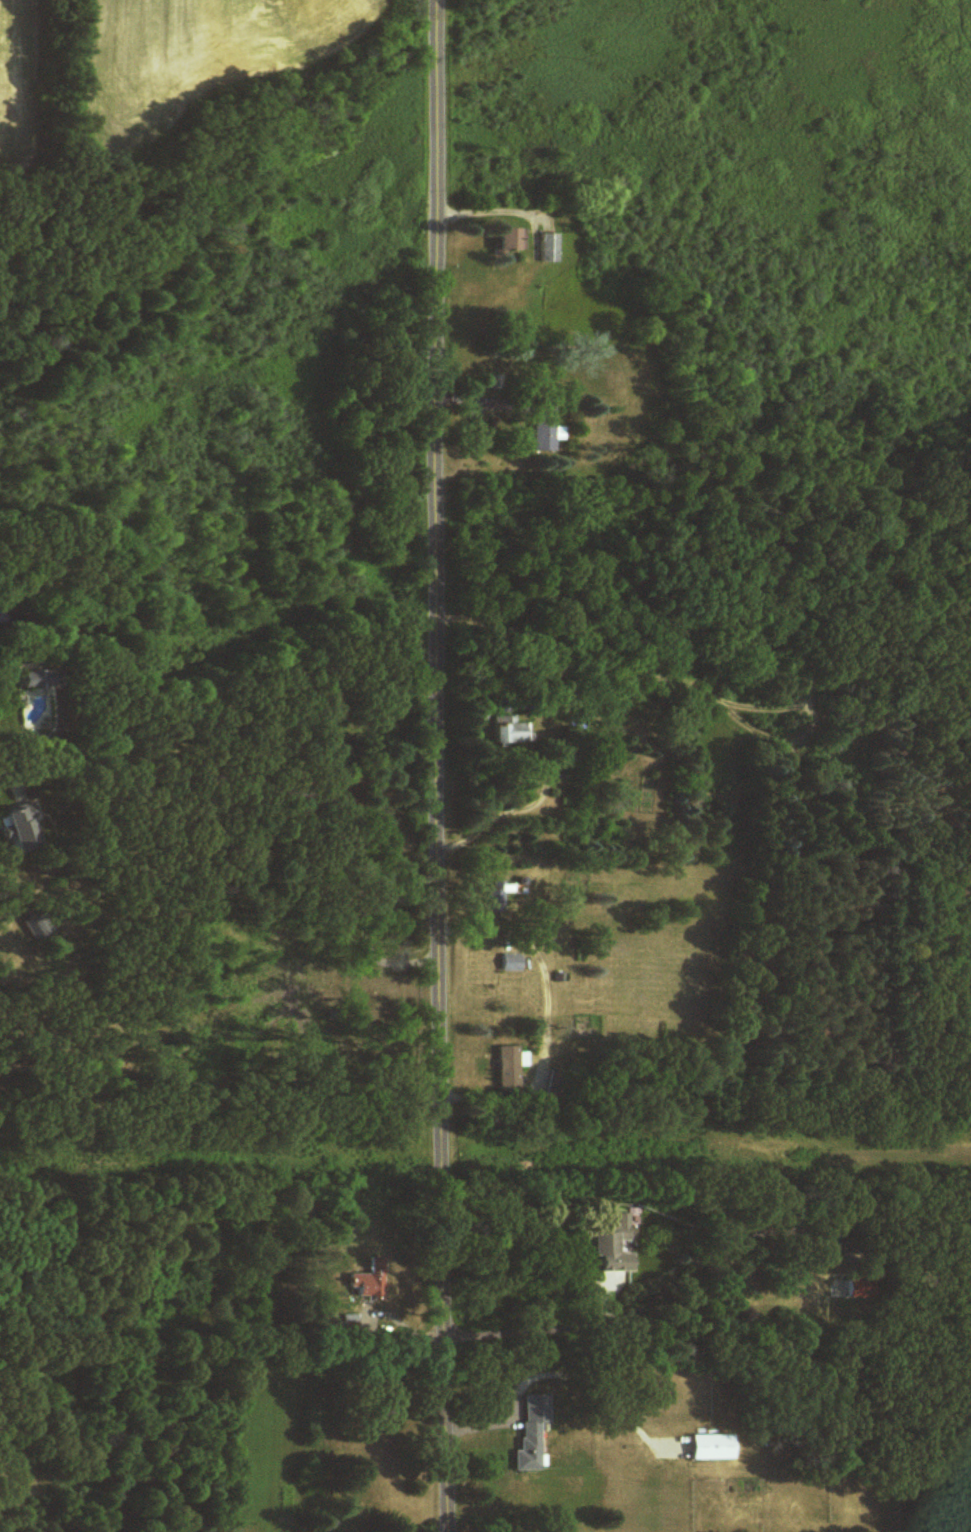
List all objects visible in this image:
building: (512, 240)
building: (550, 248)
building: (545, 429)
building: (42, 680)
building: (512, 733)
road: (442, 766)
road: (519, 771)
road: (279, 787)
building: (24, 828)
building: (494, 899)
building: (512, 964)
road: (548, 1016)
building: (509, 1070)
building: (612, 1246)
road: (690, 1269)
building: (370, 1281)
building: (837, 1299)
building: (533, 1432)
building: (702, 1448)

